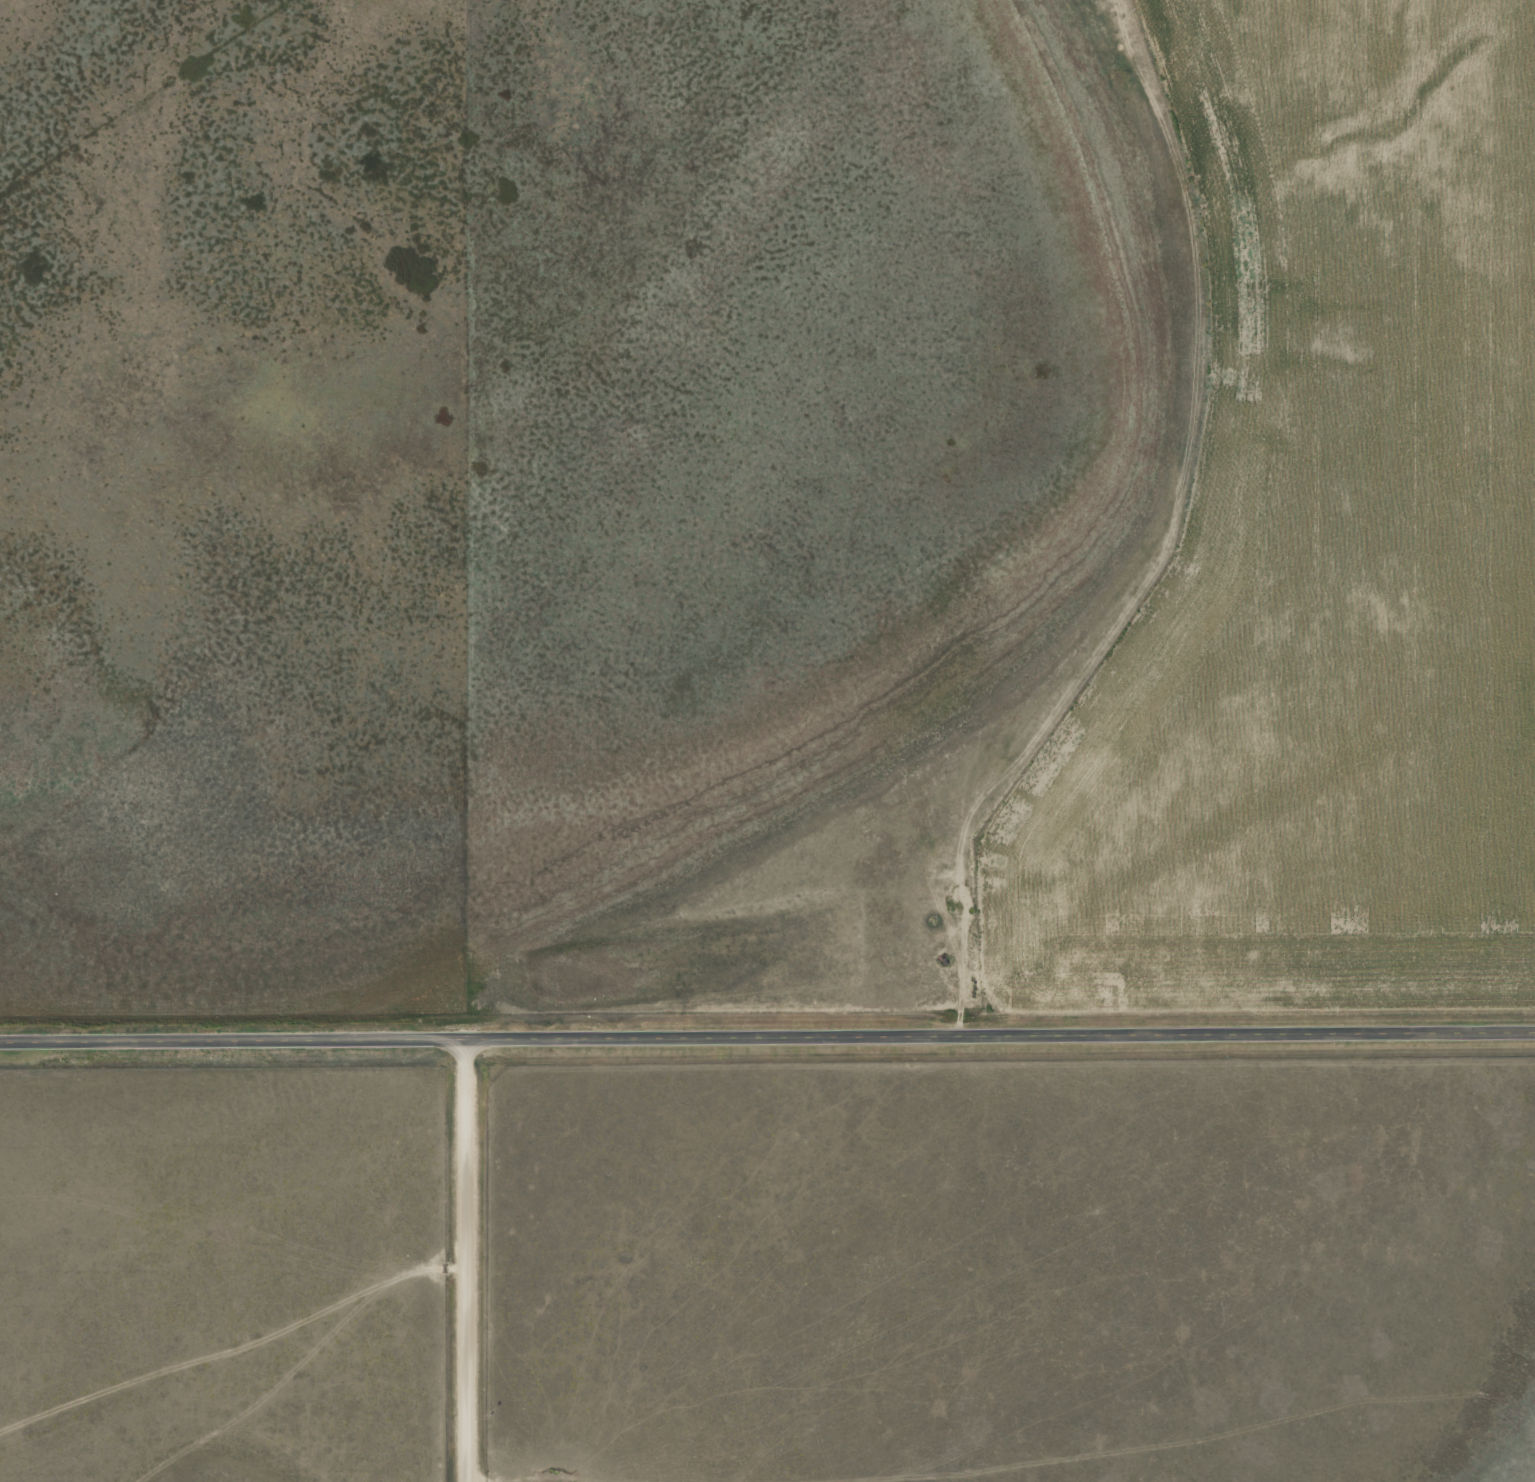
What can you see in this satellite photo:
road: (767, 1038)
road: (471, 1261)

